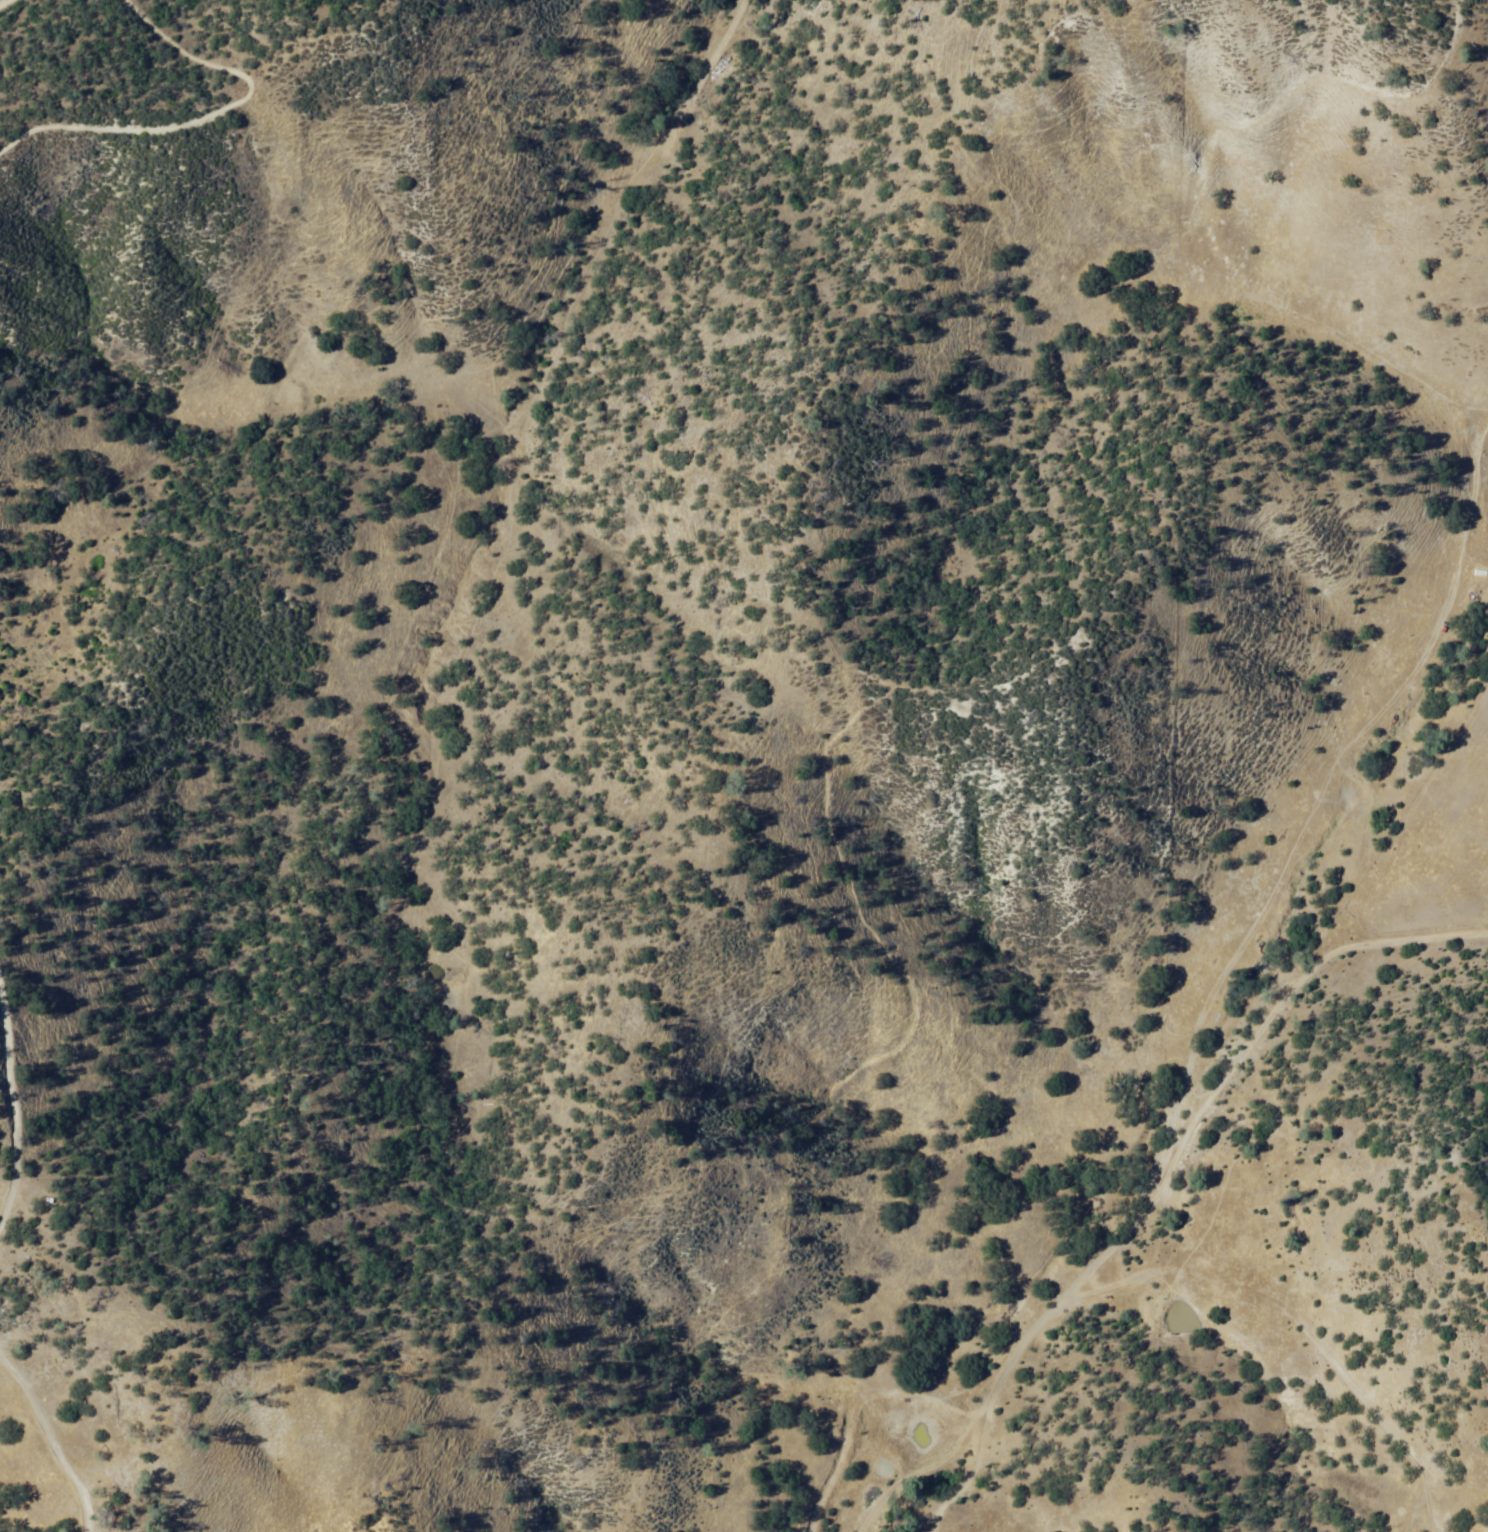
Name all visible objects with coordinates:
crop: (1395, 798)
road: (15, 1104)
road: (54, 1436)

